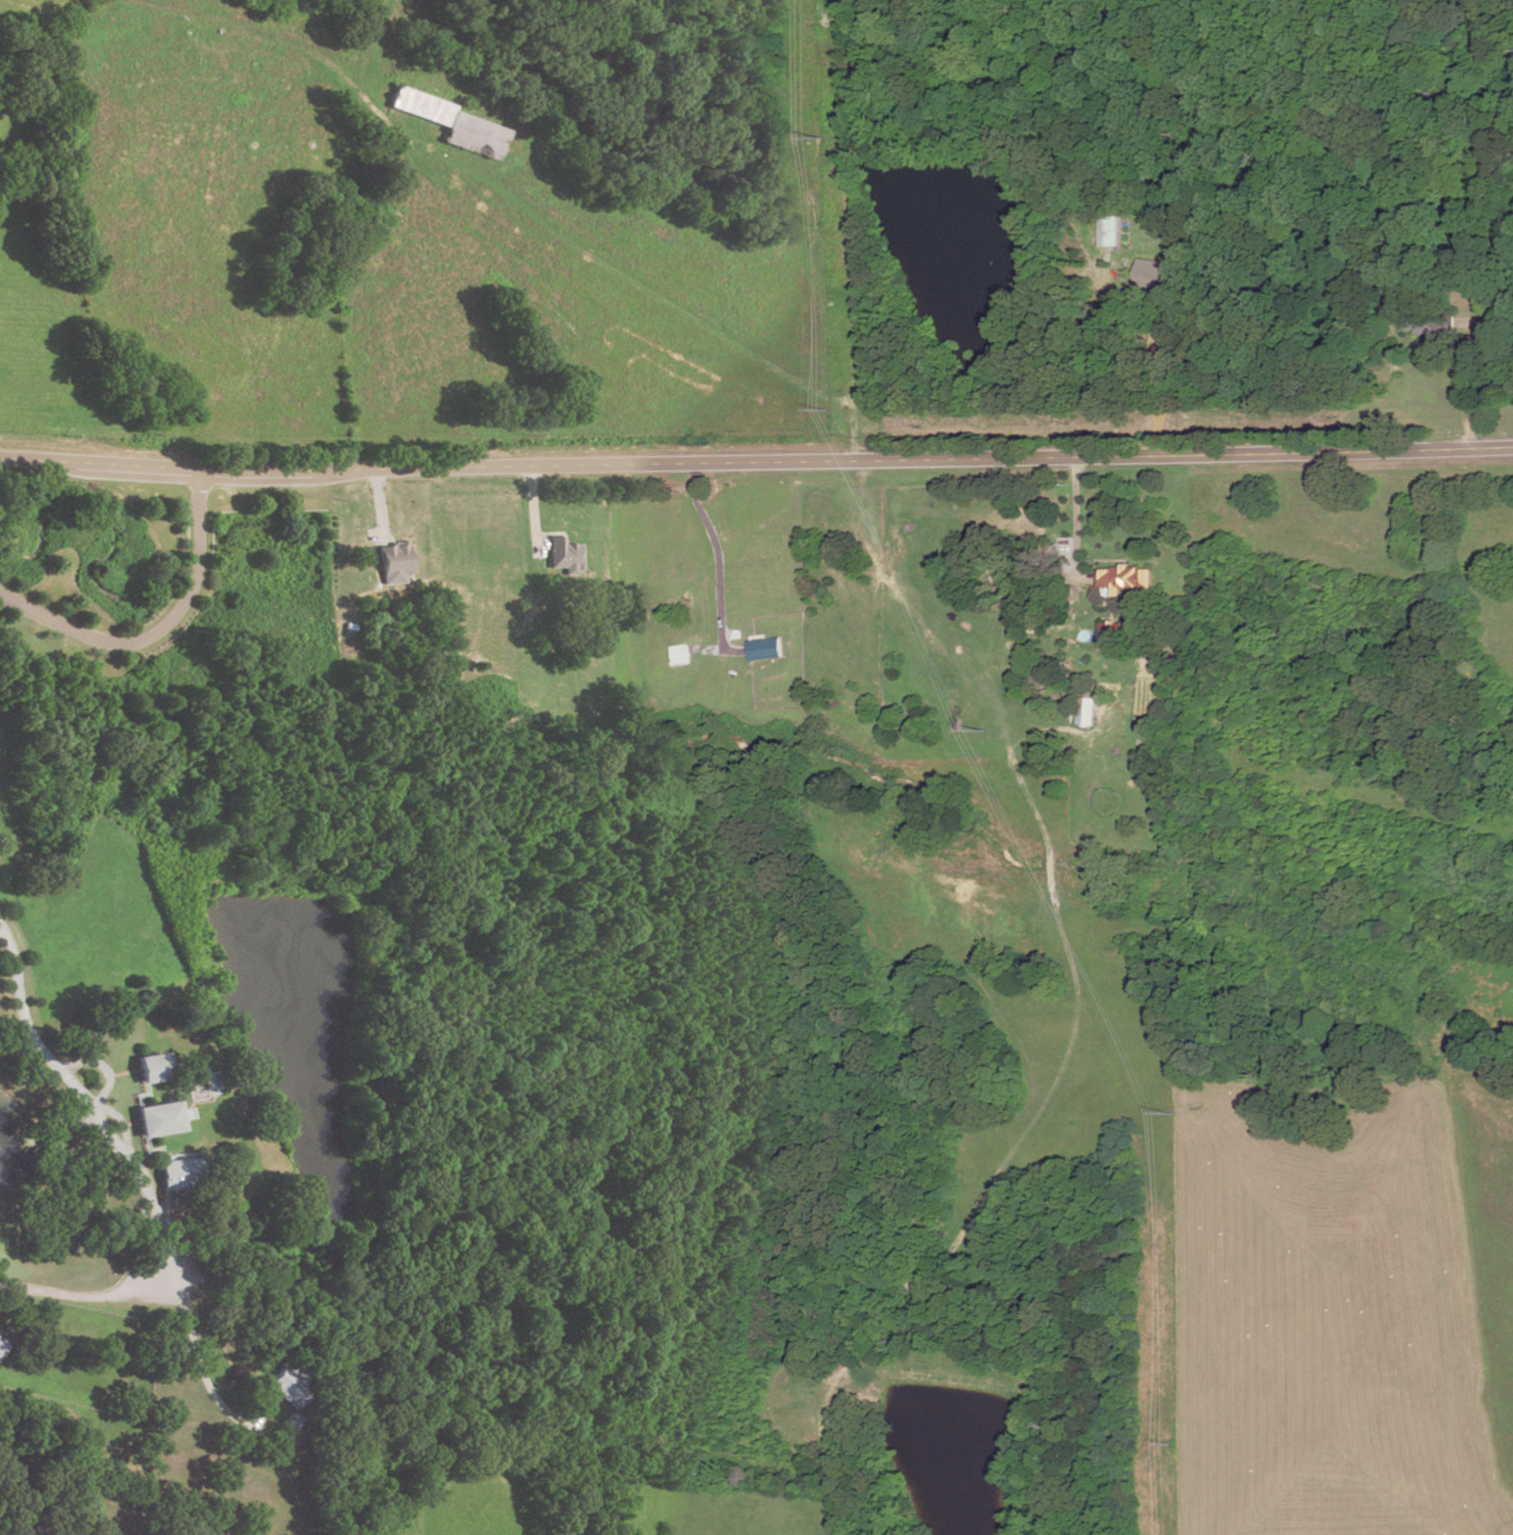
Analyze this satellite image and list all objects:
power tower: (824, 19)
road: (292, 45)
building: (451, 125)
building: (1107, 231)
building: (1160, 270)
building: (1427, 320)
road: (1146, 357)
road: (1497, 385)
power tower: (832, 408)
road: (756, 461)
road: (1076, 523)
road: (719, 551)
building: (566, 555)
building: (393, 563)
building: (1124, 578)
road: (158, 630)
building: (1112, 636)
building: (764, 648)
building: (1086, 713)
power tower: (991, 730)
road: (9, 995)
road: (103, 1067)
building: (149, 1068)
road: (121, 1074)
road: (91, 1109)
power tower: (1170, 1117)
road: (118, 1120)
building: (157, 1120)
building: (178, 1175)
parking lot: (185, 1250)
road: (78, 1293)
building: (1, 1341)
road: (205, 1381)
building: (288, 1385)
power tower: (1168, 1445)

